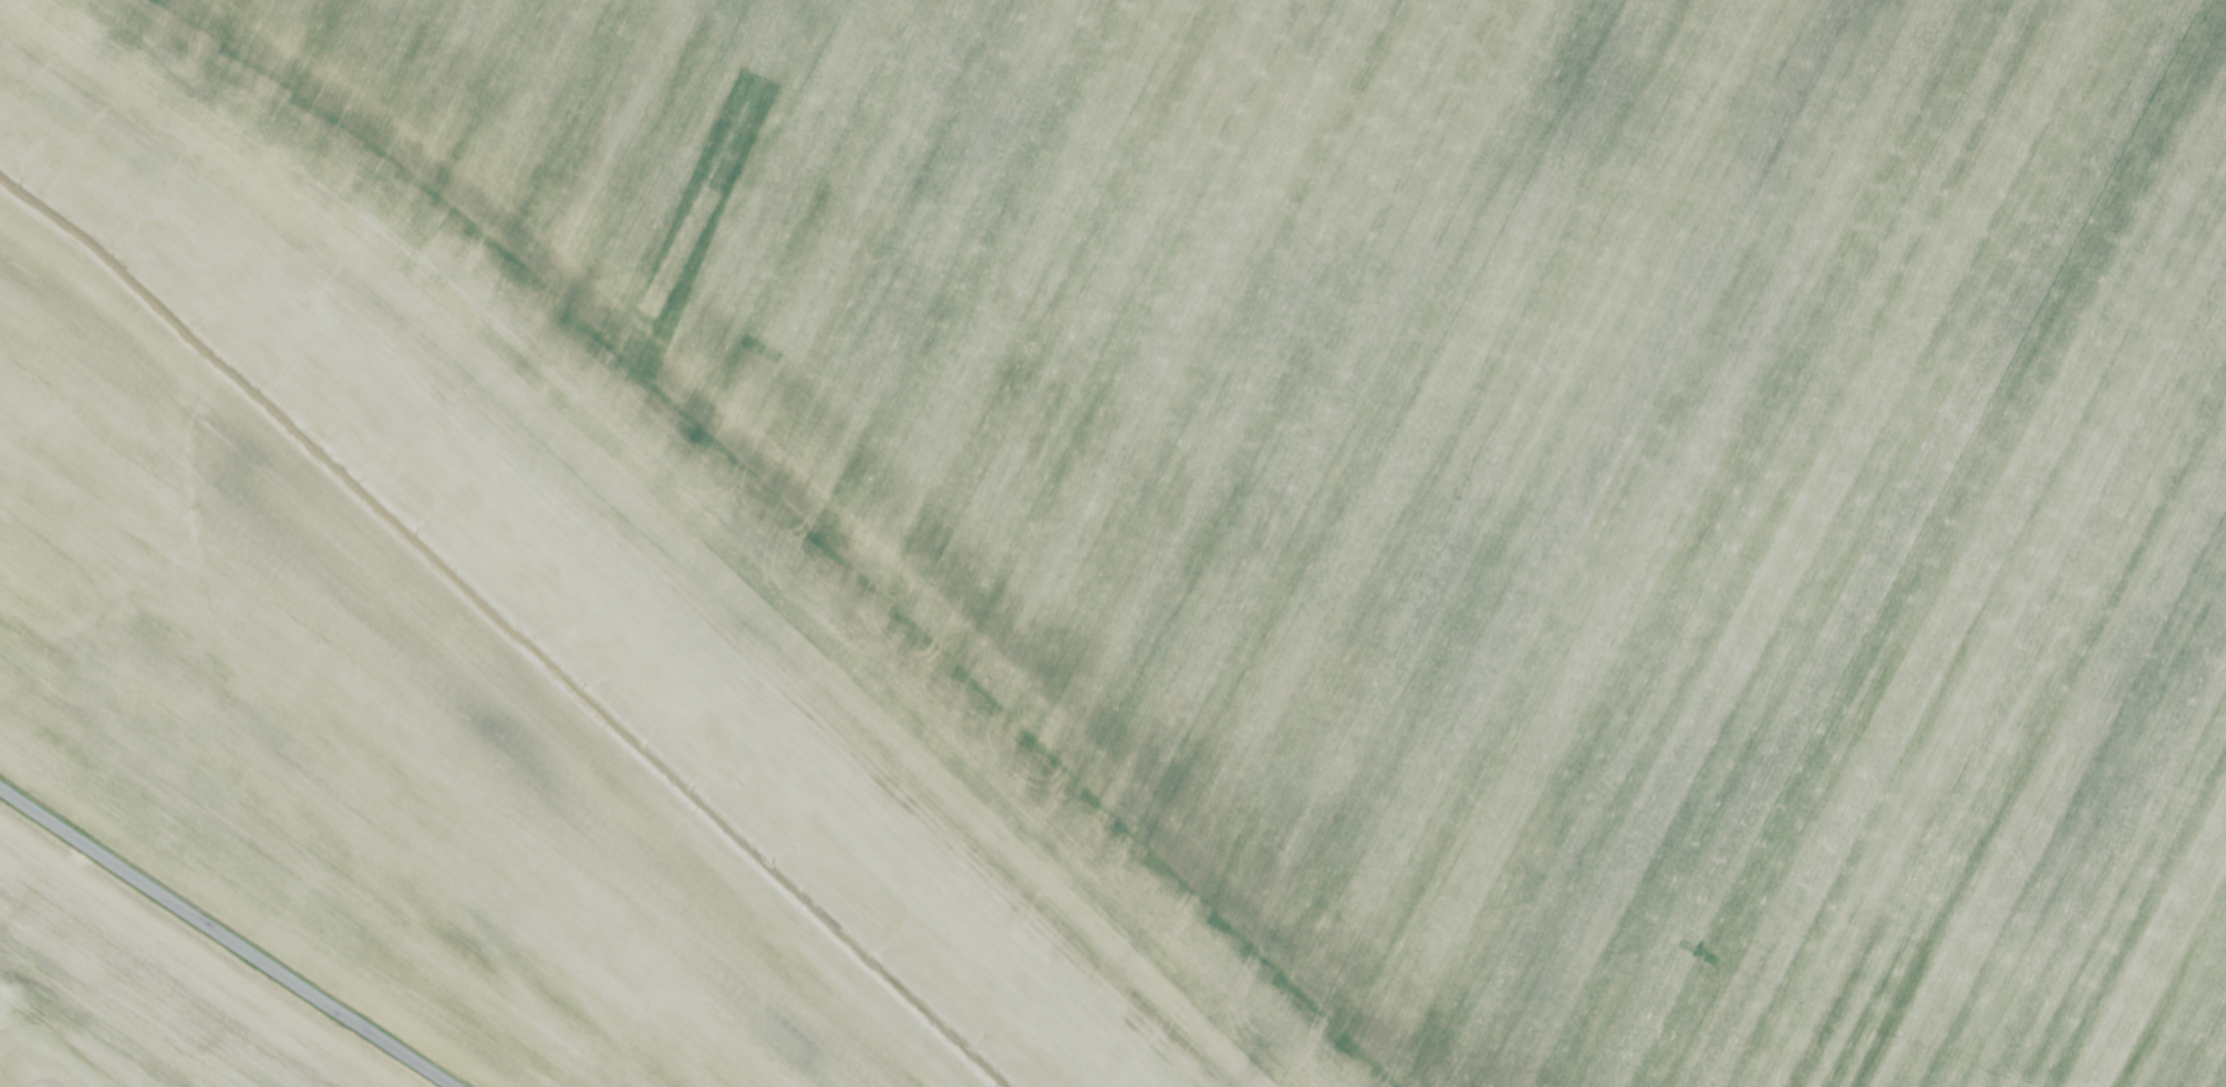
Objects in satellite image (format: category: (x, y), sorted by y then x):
road: (226, 936)

